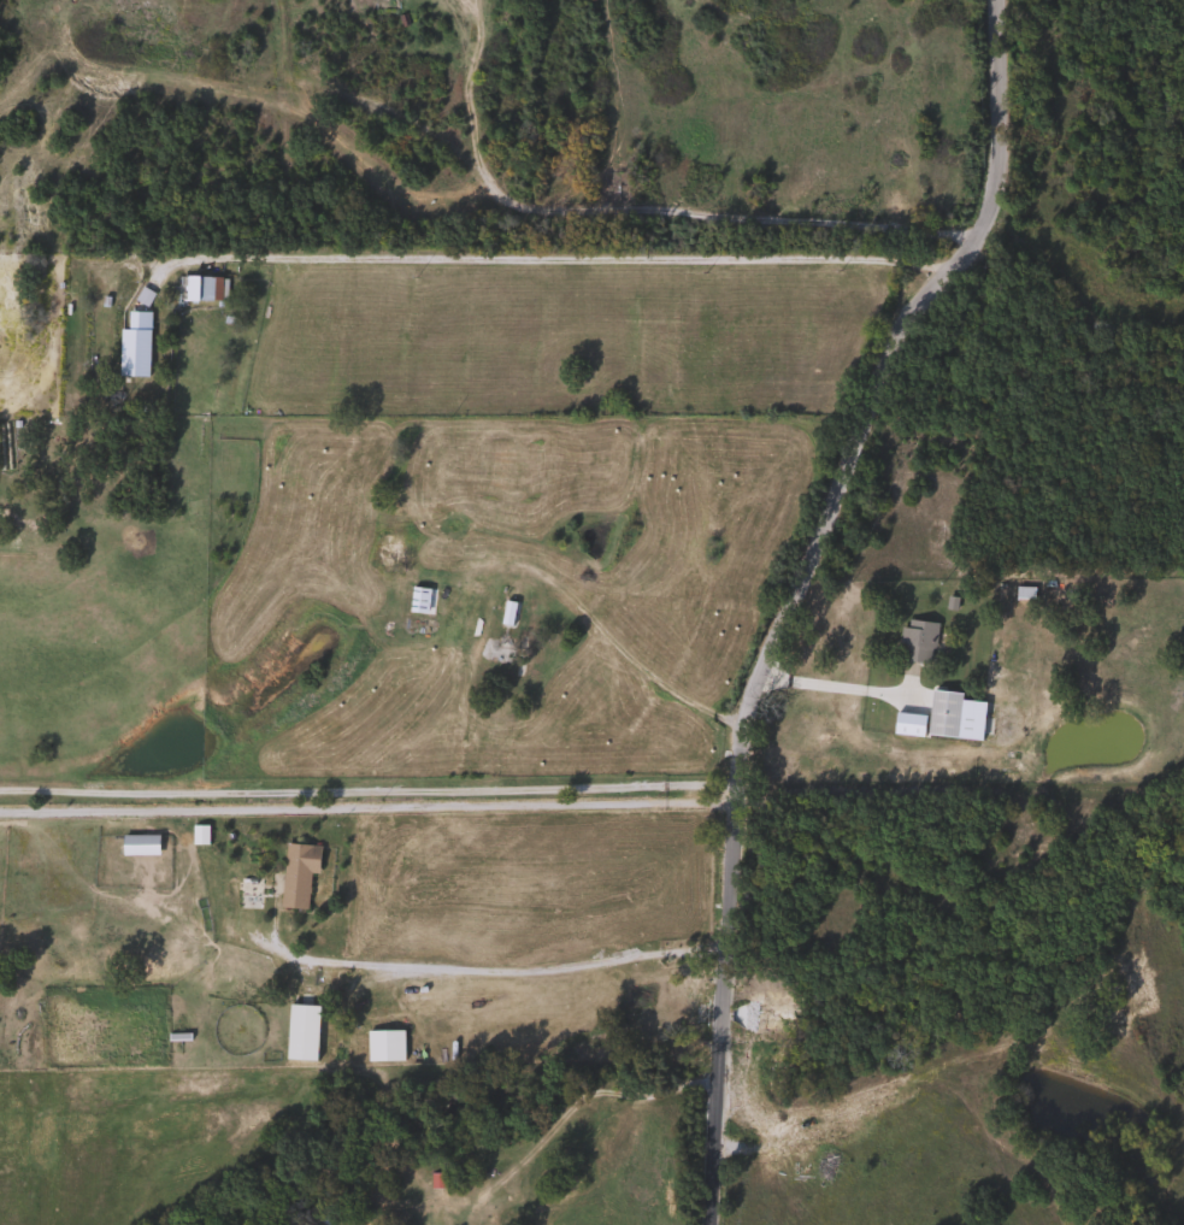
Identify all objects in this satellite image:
road: (547, 258)
building: (200, 289)
building: (131, 354)
road: (790, 593)
building: (413, 600)
building: (512, 612)
building: (913, 641)
road: (836, 685)
building: (939, 713)
road: (365, 783)
road: (363, 802)
building: (135, 844)
building: (294, 873)
building: (245, 895)
road: (491, 970)

